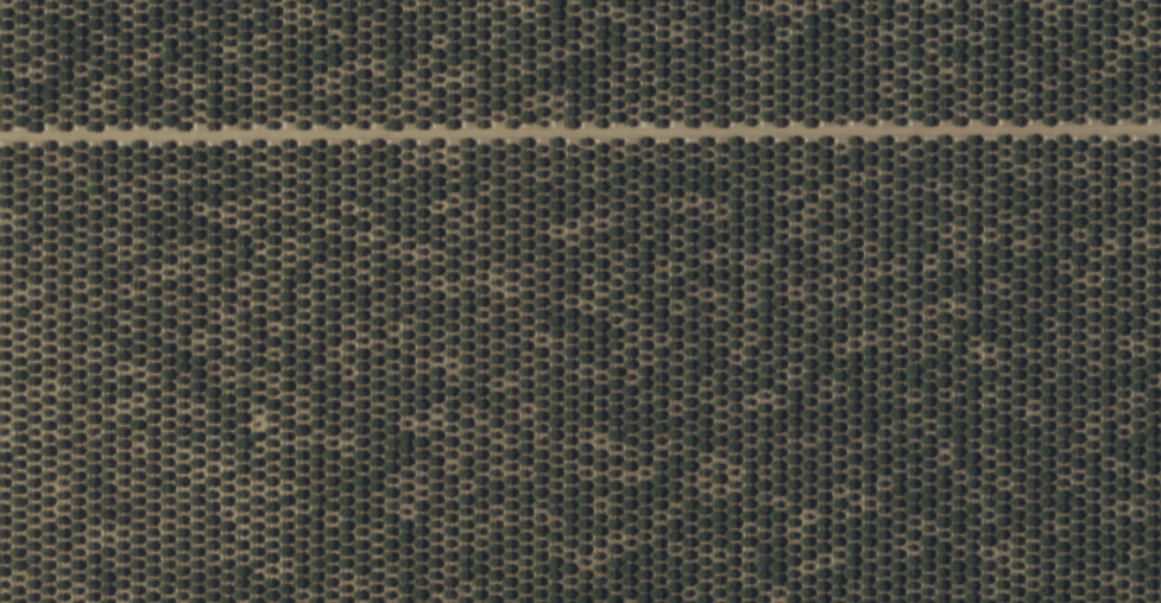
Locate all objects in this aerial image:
road: (580, 193)

